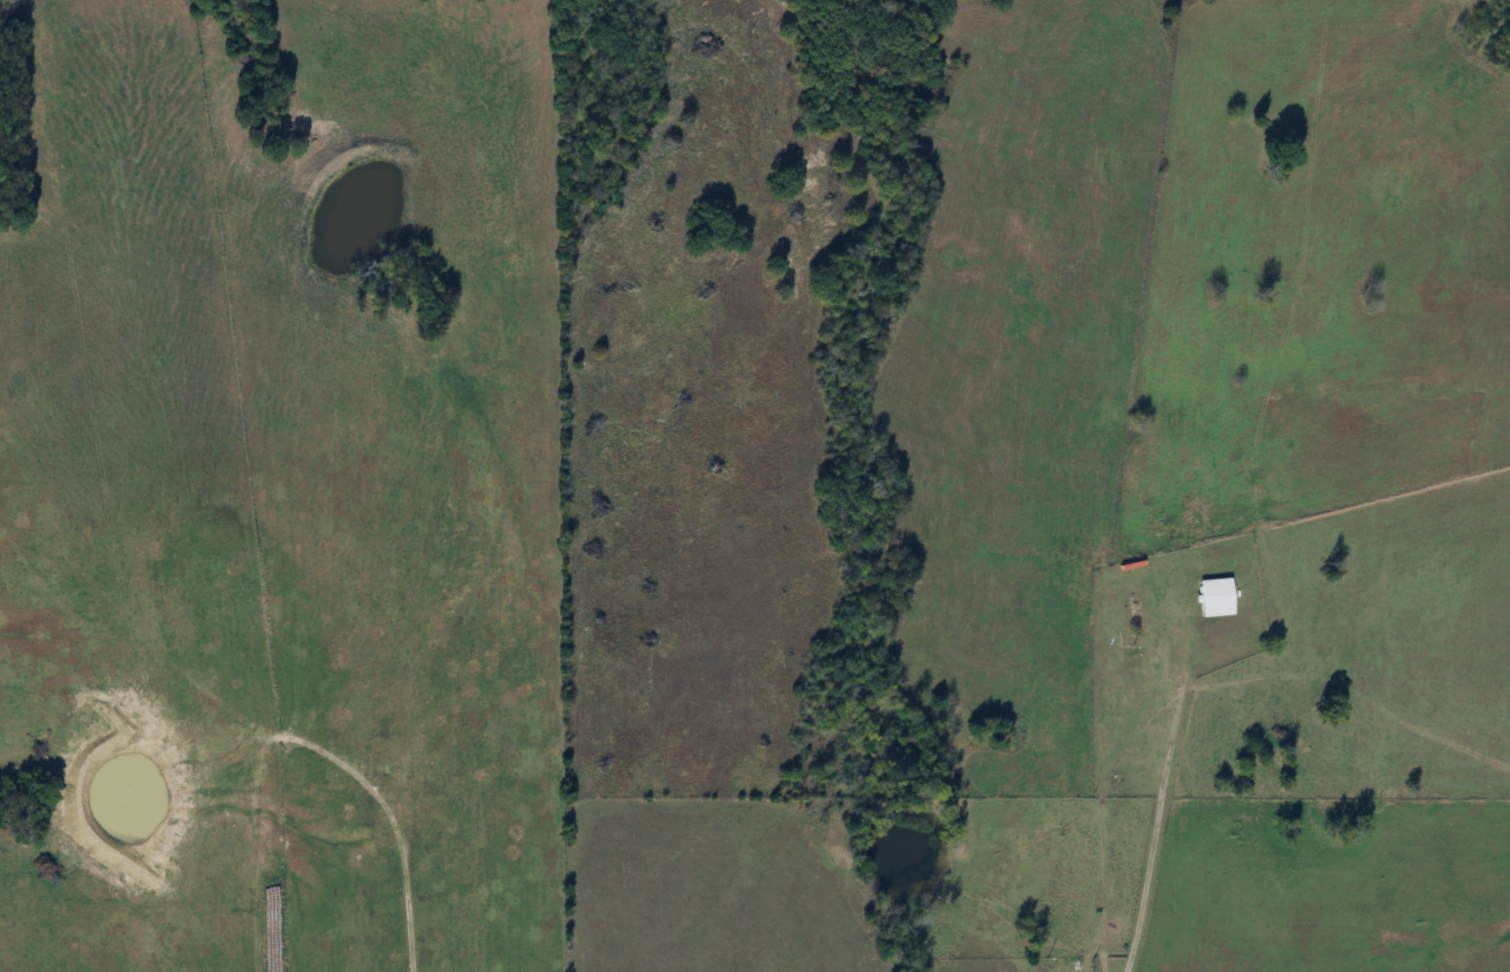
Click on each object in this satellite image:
building: (1214, 600)

